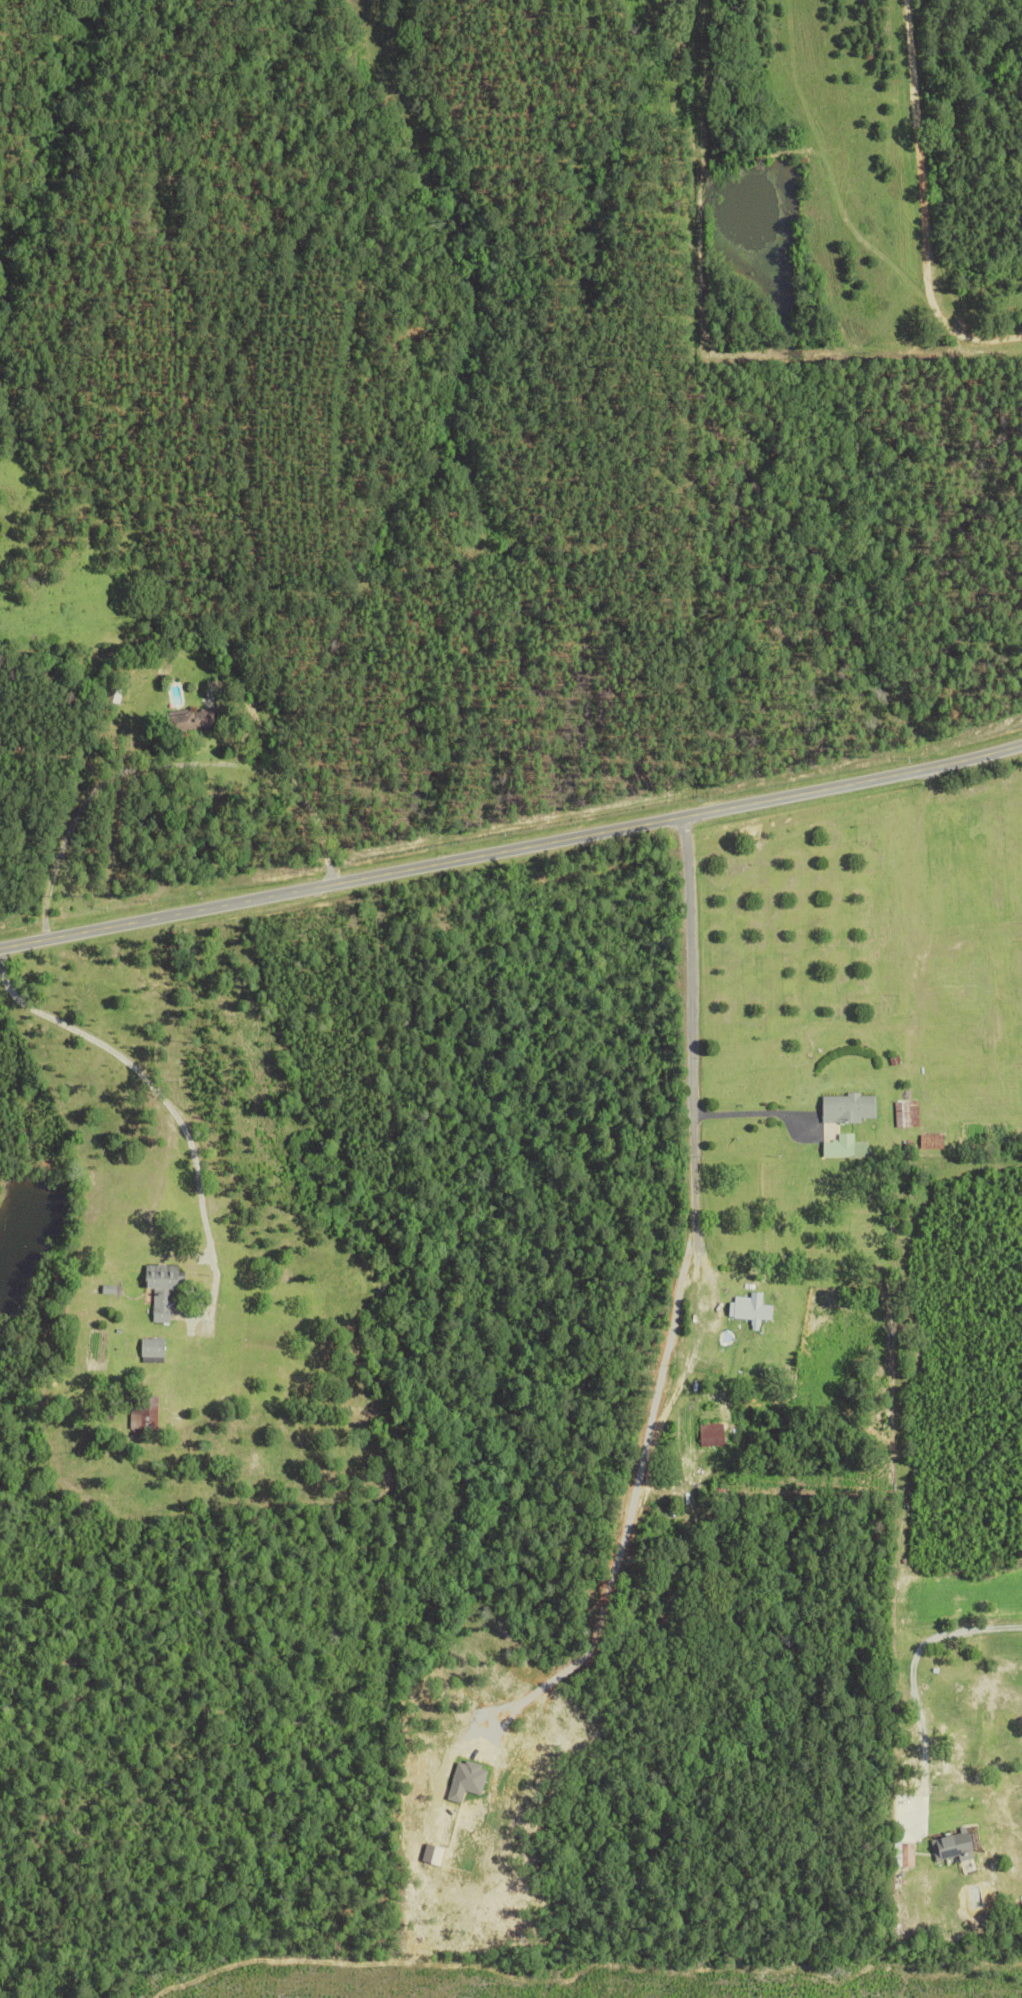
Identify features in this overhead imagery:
road: (927, 202)
building: (201, 718)
road: (513, 861)
road: (691, 1077)
building: (850, 1107)
road: (759, 1110)
building: (907, 1113)
road: (930, 1125)
road: (164, 1132)
building: (933, 1141)
building: (846, 1147)
building: (163, 1289)
building: (752, 1309)
building: (153, 1347)
building: (147, 1408)
building: (713, 1434)
road: (631, 1511)
road: (906, 1675)
building: (955, 1846)
building: (908, 1854)

